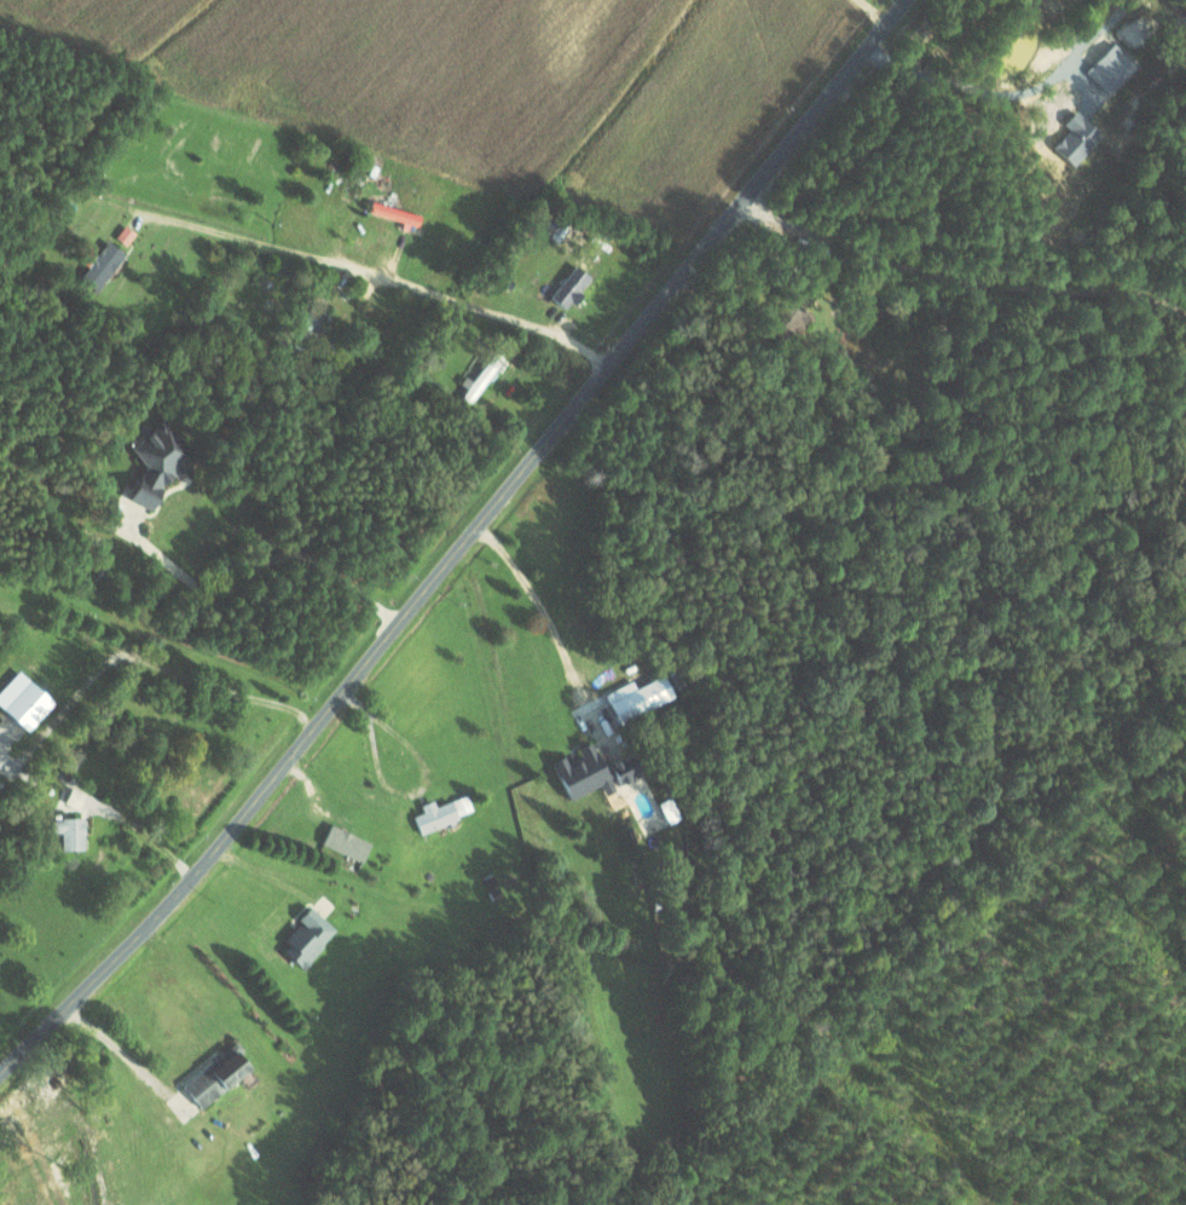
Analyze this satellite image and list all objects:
building: (1113, 64)
building: (397, 214)
building: (126, 235)
building: (104, 265)
road: (334, 269)
building: (573, 286)
building: (300, 329)
building: (158, 463)
road: (463, 546)
road: (554, 630)
building: (638, 697)
building: (31, 705)
building: (597, 771)
road: (429, 776)
building: (76, 797)
building: (445, 812)
building: (73, 832)
building: (348, 842)
building: (309, 938)
building: (220, 1076)

